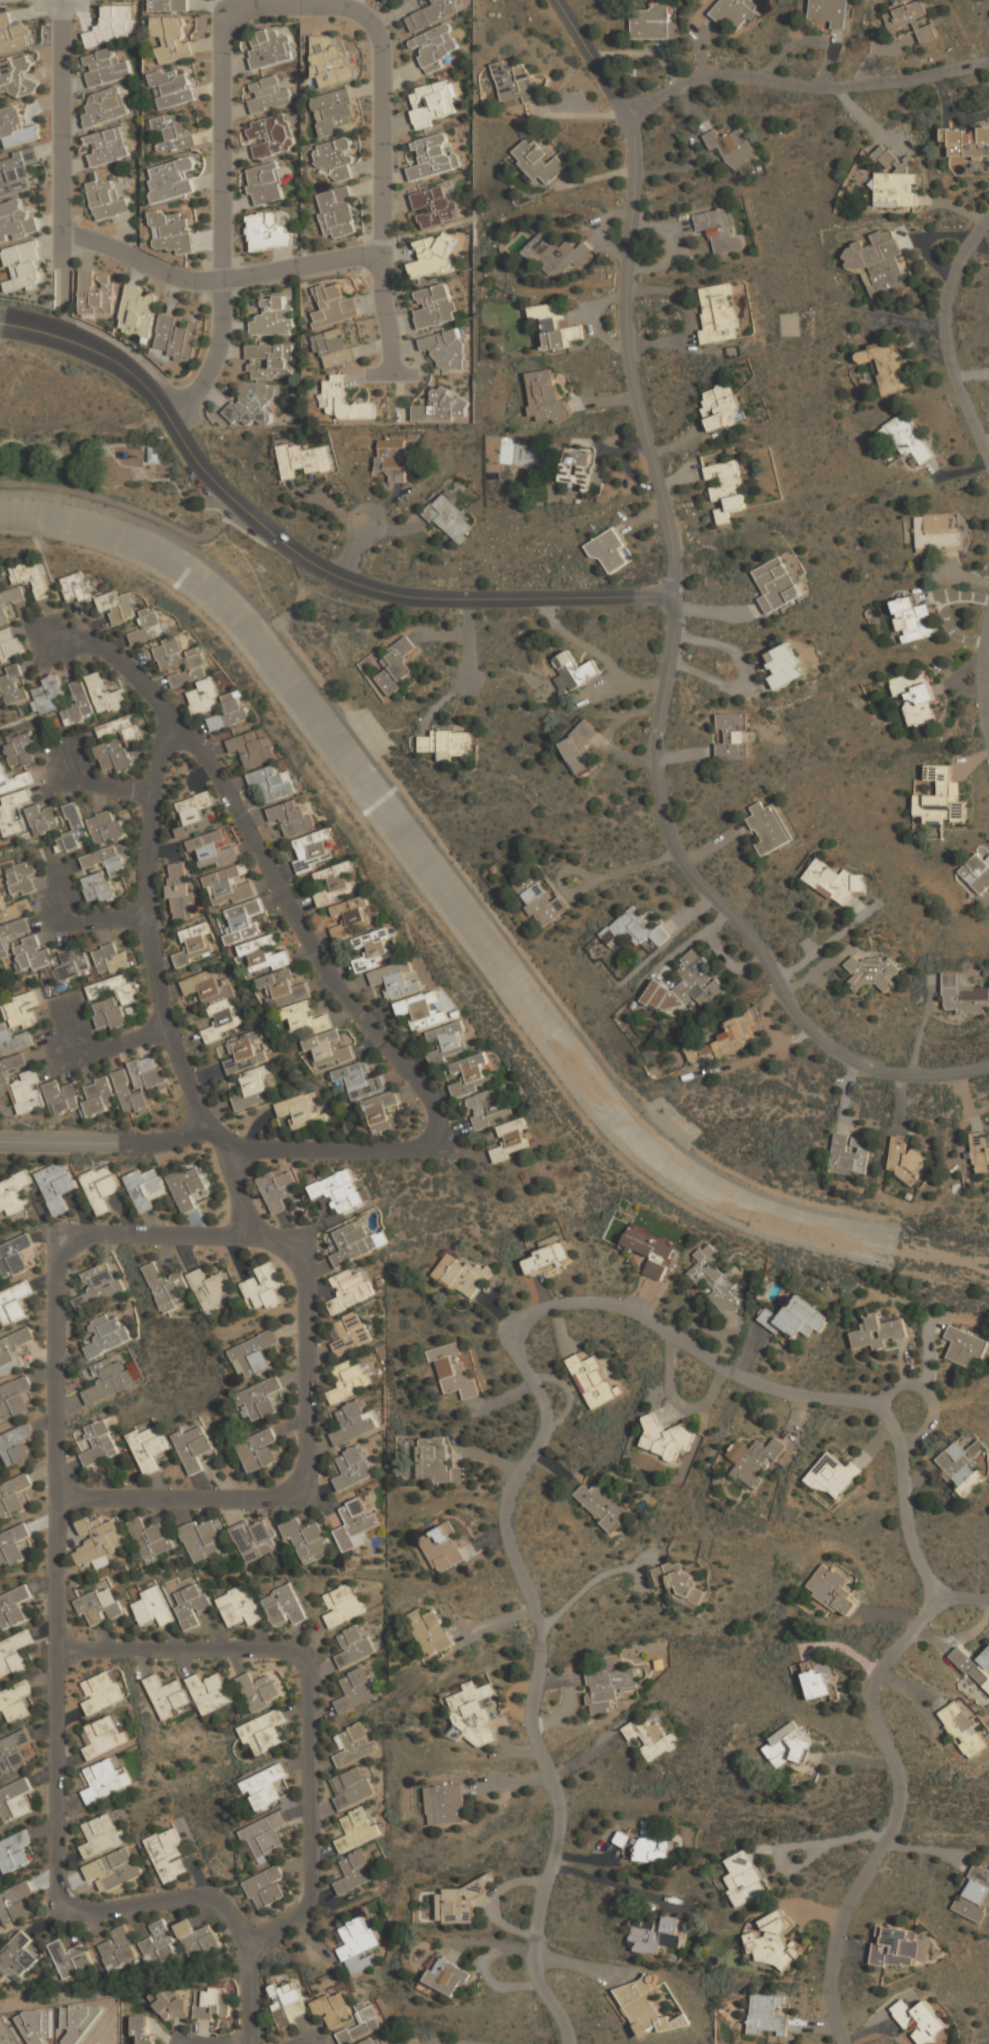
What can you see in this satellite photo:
building: (169, 5)
building: (734, 11)
building: (829, 11)
building: (433, 12)
building: (910, 18)
building: (653, 22)
building: (112, 23)
building: (13, 32)
building: (171, 36)
building: (434, 46)
building: (270, 47)
building: (330, 59)
building: (105, 66)
building: (16, 76)
road: (221, 77)
building: (515, 79)
building: (171, 86)
road: (803, 86)
building: (269, 92)
building: (430, 101)
building: (105, 105)
building: (334, 109)
building: (16, 127)
building: (173, 132)
building: (271, 135)
building: (965, 142)
building: (107, 146)
building: (733, 147)
road: (62, 150)
building: (432, 156)
building: (335, 157)
building: (537, 161)
building: (17, 170)
building: (171, 178)
building: (894, 180)
building: (265, 182)
road: (381, 191)
building: (106, 197)
building: (434, 206)
building: (336, 211)
building: (16, 220)
building: (718, 229)
building: (172, 230)
building: (267, 230)
building: (558, 254)
building: (432, 256)
building: (879, 261)
building: (23, 267)
road: (217, 279)
building: (96, 292)
building: (333, 304)
building: (435, 305)
building: (138, 310)
building: (718, 313)
road: (63, 316)
building: (272, 316)
road: (17, 322)
building: (554, 325)
road: (947, 336)
building: (175, 337)
building: (334, 345)
building: (444, 347)
road: (212, 358)
building: (269, 360)
building: (885, 365)
road: (391, 374)
building: (545, 395)
building: (344, 400)
building: (251, 404)
building: (442, 406)
building: (721, 406)
building: (907, 438)
building: (153, 453)
building: (520, 453)
building: (393, 454)
building: (300, 459)
building: (580, 468)
park: (108, 473)
building: (726, 488)
road: (128, 503)
building: (448, 516)
building: (935, 533)
road: (356, 547)
building: (608, 550)
road: (307, 559)
building: (31, 577)
building: (776, 584)
building: (75, 587)
building: (9, 601)
building: (116, 606)
building: (914, 618)
road: (668, 625)
building: (150, 627)
building: (9, 642)
building: (168, 654)
road: (119, 660)
building: (783, 664)
building: (396, 665)
building: (189, 669)
building: (573, 671)
road: (983, 682)
building: (12, 683)
road: (986, 692)
building: (104, 693)
building: (48, 694)
building: (202, 696)
building: (914, 698)
building: (78, 703)
building: (228, 712)
building: (120, 727)
building: (731, 733)
building: (446, 742)
building: (20, 747)
building: (578, 747)
building: (251, 749)
building: (117, 754)
building: (13, 778)
road: (104, 780)
building: (271, 783)
building: (940, 794)
building: (12, 810)
building: (193, 812)
building: (43, 818)
building: (290, 818)
building: (105, 826)
building: (769, 826)
building: (73, 828)
building: (211, 849)
building: (311, 850)
building: (101, 872)
building: (977, 873)
building: (23, 876)
building: (834, 880)
building: (334, 883)
building: (228, 886)
building: (179, 890)
building: (2, 901)
building: (542, 904)
building: (21, 906)
building: (349, 911)
building: (244, 919)
road: (85, 920)
building: (634, 929)
building: (11, 933)
road: (147, 935)
building: (194, 943)
building: (30, 954)
building: (263, 954)
building: (110, 958)
building: (71, 963)
building: (872, 972)
building: (394, 980)
building: (690, 985)
building: (282, 987)
building: (963, 995)
building: (110, 1000)
building: (215, 1002)
building: (420, 1010)
building: (303, 1018)
building: (17, 1020)
road: (374, 1022)
building: (726, 1038)
building: (446, 1041)
road: (101, 1046)
building: (327, 1048)
building: (244, 1052)
building: (471, 1075)
building: (358, 1080)
building: (139, 1083)
building: (252, 1087)
building: (54, 1090)
building: (488, 1106)
building: (301, 1109)
building: (384, 1111)
building: (509, 1140)
road: (112, 1141)
building: (979, 1151)
building: (849, 1154)
building: (905, 1160)
building: (56, 1185)
building: (145, 1185)
building: (101, 1186)
building: (187, 1186)
road: (237, 1186)
building: (277, 1189)
building: (337, 1191)
building: (14, 1193)
building: (380, 1239)
building: (352, 1242)
building: (649, 1253)
building: (14, 1255)
building: (546, 1256)
building: (462, 1275)
building: (714, 1278)
building: (99, 1284)
building: (166, 1287)
building: (263, 1287)
building: (210, 1289)
building: (348, 1290)
building: (13, 1303)
building: (793, 1319)
building: (348, 1333)
building: (877, 1333)
building: (106, 1334)
building: (964, 1347)
building: (15, 1350)
building: (254, 1353)
road: (928, 1358)
building: (452, 1371)
building: (108, 1378)
building: (348, 1380)
building: (592, 1380)
road: (525, 1381)
building: (14, 1398)
building: (260, 1399)
building: (353, 1423)
building: (665, 1439)
building: (99, 1442)
building: (15, 1443)
building: (194, 1446)
building: (149, 1447)
building: (257, 1449)
building: (753, 1460)
road: (312, 1462)
building: (435, 1462)
building: (958, 1468)
building: (351, 1469)
building: (834, 1474)
building: (14, 1495)
building: (602, 1506)
building: (354, 1525)
building: (306, 1539)
building: (151, 1540)
building: (201, 1540)
building: (253, 1540)
building: (98, 1542)
building: (12, 1545)
building: (442, 1548)
building: (678, 1583)
building: (832, 1589)
building: (190, 1605)
building: (342, 1605)
building: (13, 1606)
building: (98, 1606)
building: (151, 1607)
building: (238, 1607)
building: (283, 1607)
building: (429, 1630)
road: (59, 1634)
building: (353, 1647)
building: (13, 1652)
building: (974, 1666)
building: (819, 1679)
building: (608, 1687)
building: (259, 1690)
road: (308, 1690)
building: (356, 1690)
building: (101, 1691)
building: (209, 1692)
building: (168, 1695)
building: (14, 1700)
building: (492, 1708)
building: (475, 1709)
building: (963, 1729)
building: (263, 1731)
building: (105, 1735)
building: (651, 1737)
building: (353, 1745)
building: (787, 1745)
building: (14, 1750)
building: (104, 1779)
building: (263, 1786)
building: (350, 1788)
road: (894, 1794)
building: (14, 1799)
building: (444, 1805)
building: (356, 1830)
building: (102, 1833)
building: (263, 1836)
building: (621, 1839)
road: (803, 1844)
building: (653, 1849)
building: (14, 1851)
building: (168, 1854)
building: (118, 1867)
building: (354, 1872)
building: (743, 1878)
road: (613, 1885)
building: (265, 1886)
building: (975, 1894)
building: (460, 1901)
building: (14, 1902)
building: (655, 1933)
building: (197, 1938)
building: (158, 1943)
building: (772, 1944)
building: (356, 1945)
building: (895, 1946)
building: (119, 1948)
building: (70, 1957)
building: (16, 1958)
road: (586, 1966)
building: (445, 1976)
building: (210, 2001)
building: (284, 2002)
building: (173, 2004)
building: (647, 2005)
building: (332, 2009)
building: (767, 2014)
building: (919, 2020)
building: (361, 2025)
building: (142, 2031)
road: (311, 2039)
building: (367, 2041)
road: (441, 2042)

